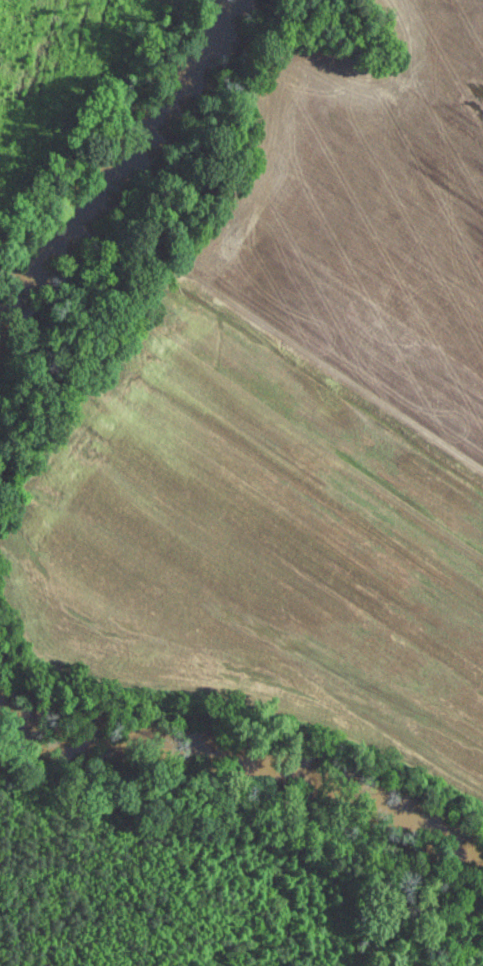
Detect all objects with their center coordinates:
river: (110, 151)
river: (244, 761)

